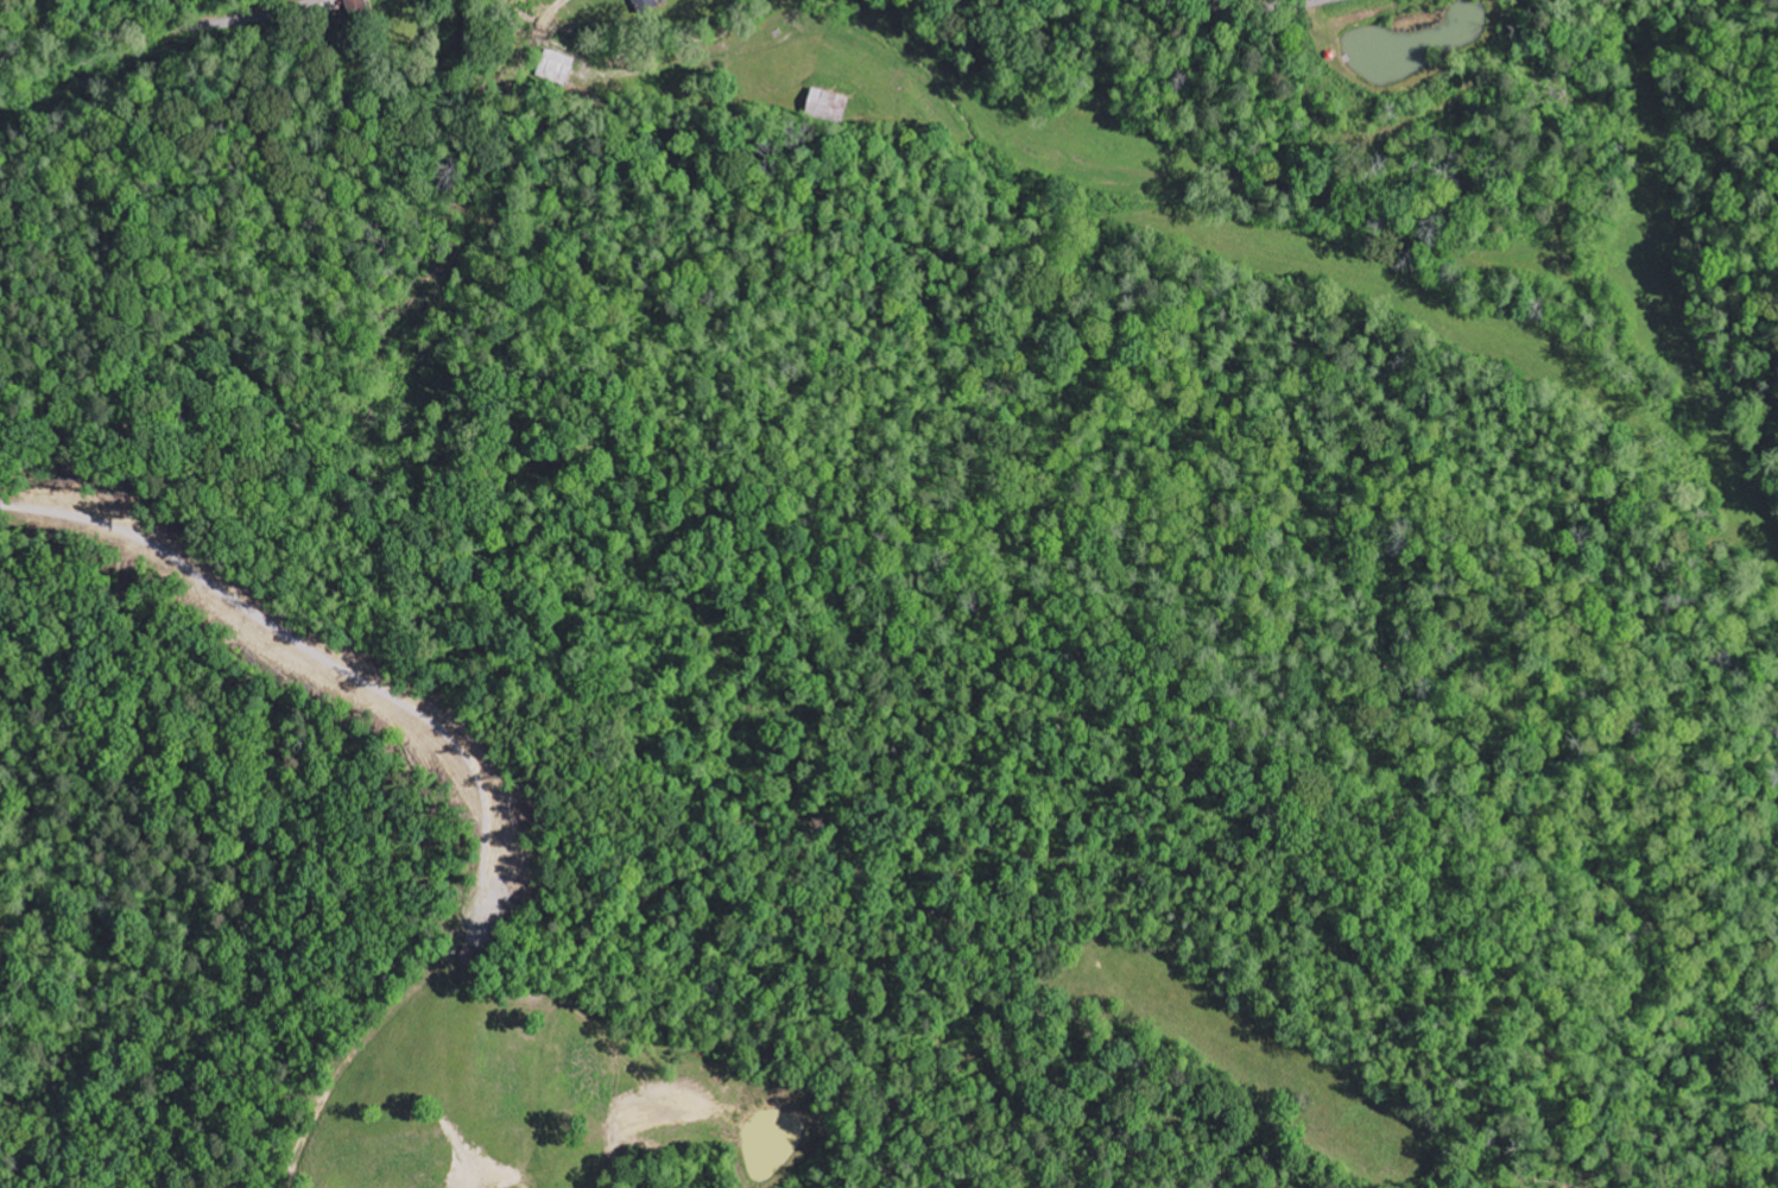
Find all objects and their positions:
building: (646, 6)
building: (358, 7)
road: (1233, 7)
road: (157, 26)
building: (557, 65)
building: (828, 105)

